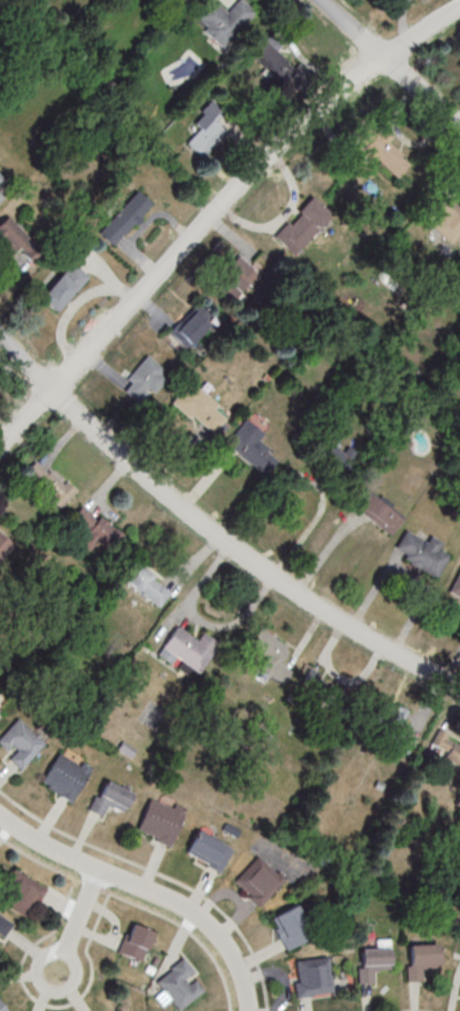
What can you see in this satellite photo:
building: (222, 20)
building: (279, 64)
road: (389, 64)
building: (280, 86)
building: (209, 131)
building: (381, 148)
building: (1, 179)
building: (0, 197)
road: (217, 211)
building: (124, 218)
building: (447, 219)
building: (302, 225)
building: (11, 233)
building: (240, 279)
building: (63, 286)
building: (191, 326)
building: (143, 380)
building: (194, 405)
building: (254, 453)
road: (311, 478)
building: (49, 482)
building: (375, 512)
building: (94, 530)
road: (214, 530)
building: (4, 547)
building: (420, 553)
building: (144, 582)
building: (455, 584)
building: (187, 651)
building: (271, 655)
building: (323, 690)
building: (0, 710)
building: (392, 726)
building: (21, 741)
building: (446, 748)
building: (64, 776)
building: (109, 798)
building: (159, 822)
building: (208, 850)
building: (258, 880)
road: (147, 889)
building: (21, 893)
building: (3, 925)
building: (289, 928)
road: (72, 931)
building: (134, 942)
building: (419, 961)
building: (371, 964)
building: (312, 976)
building: (179, 984)
building: (1, 1008)
building: (120, 1010)

